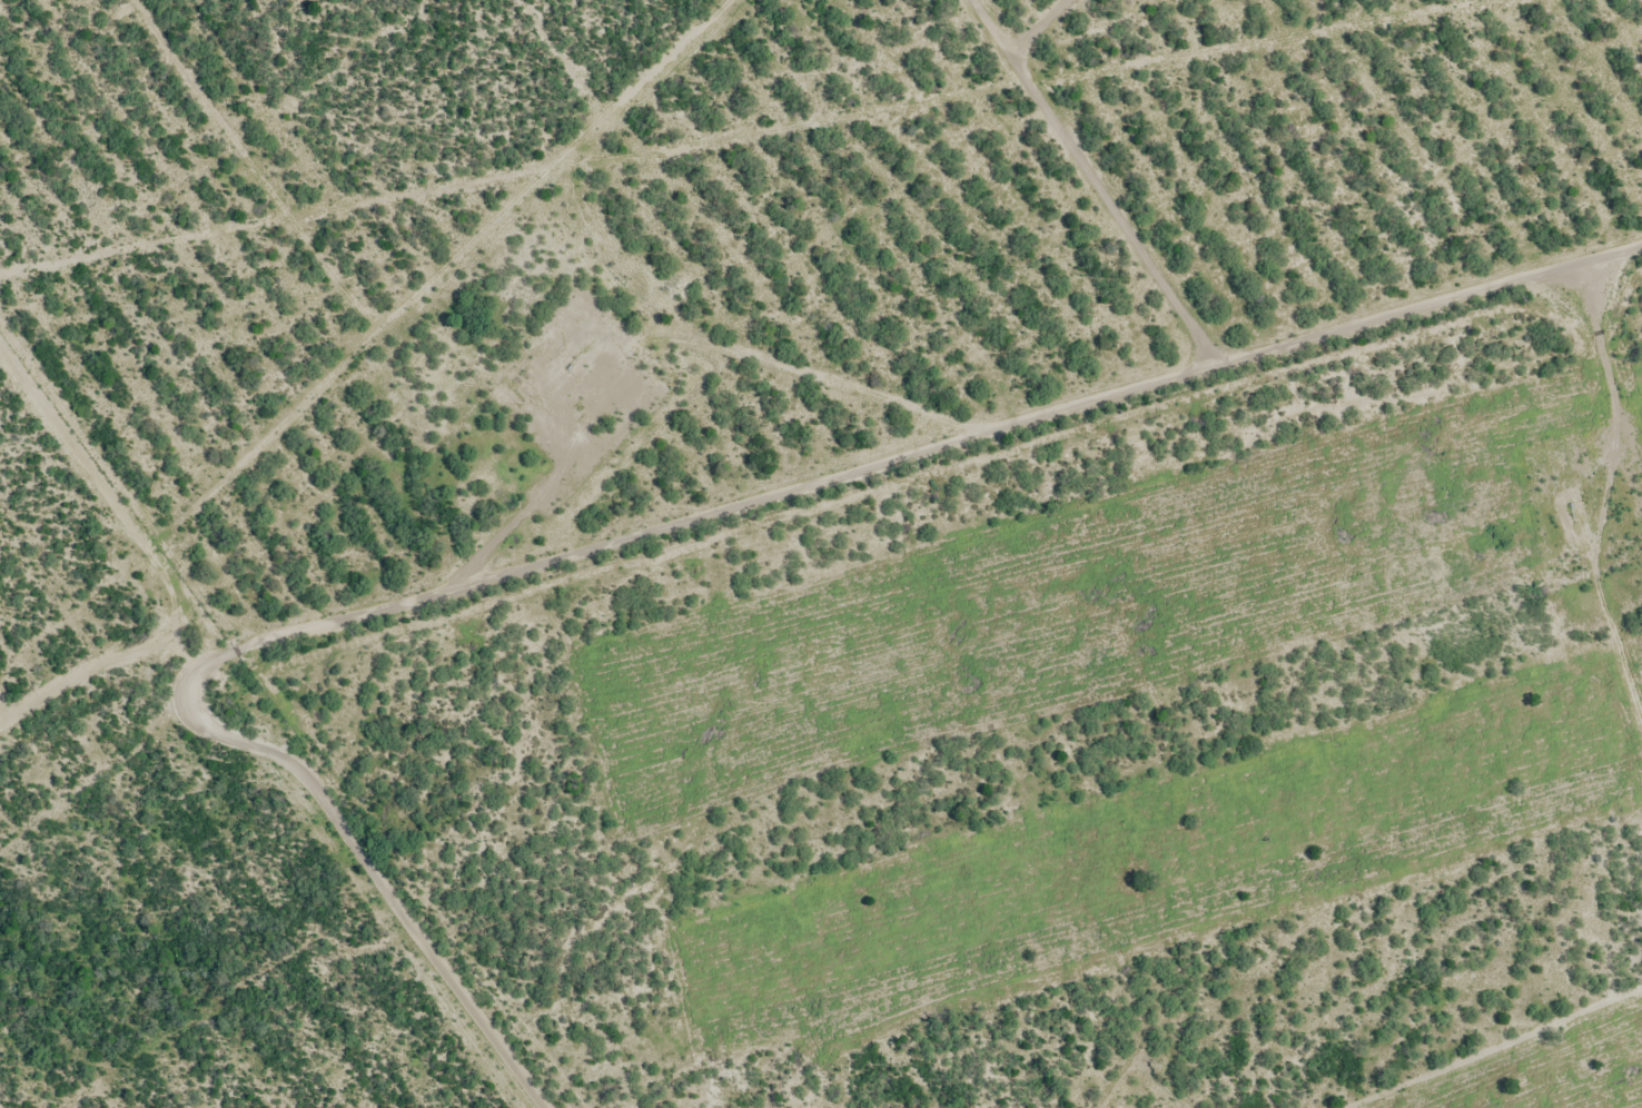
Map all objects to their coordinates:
road: (814, 495)

